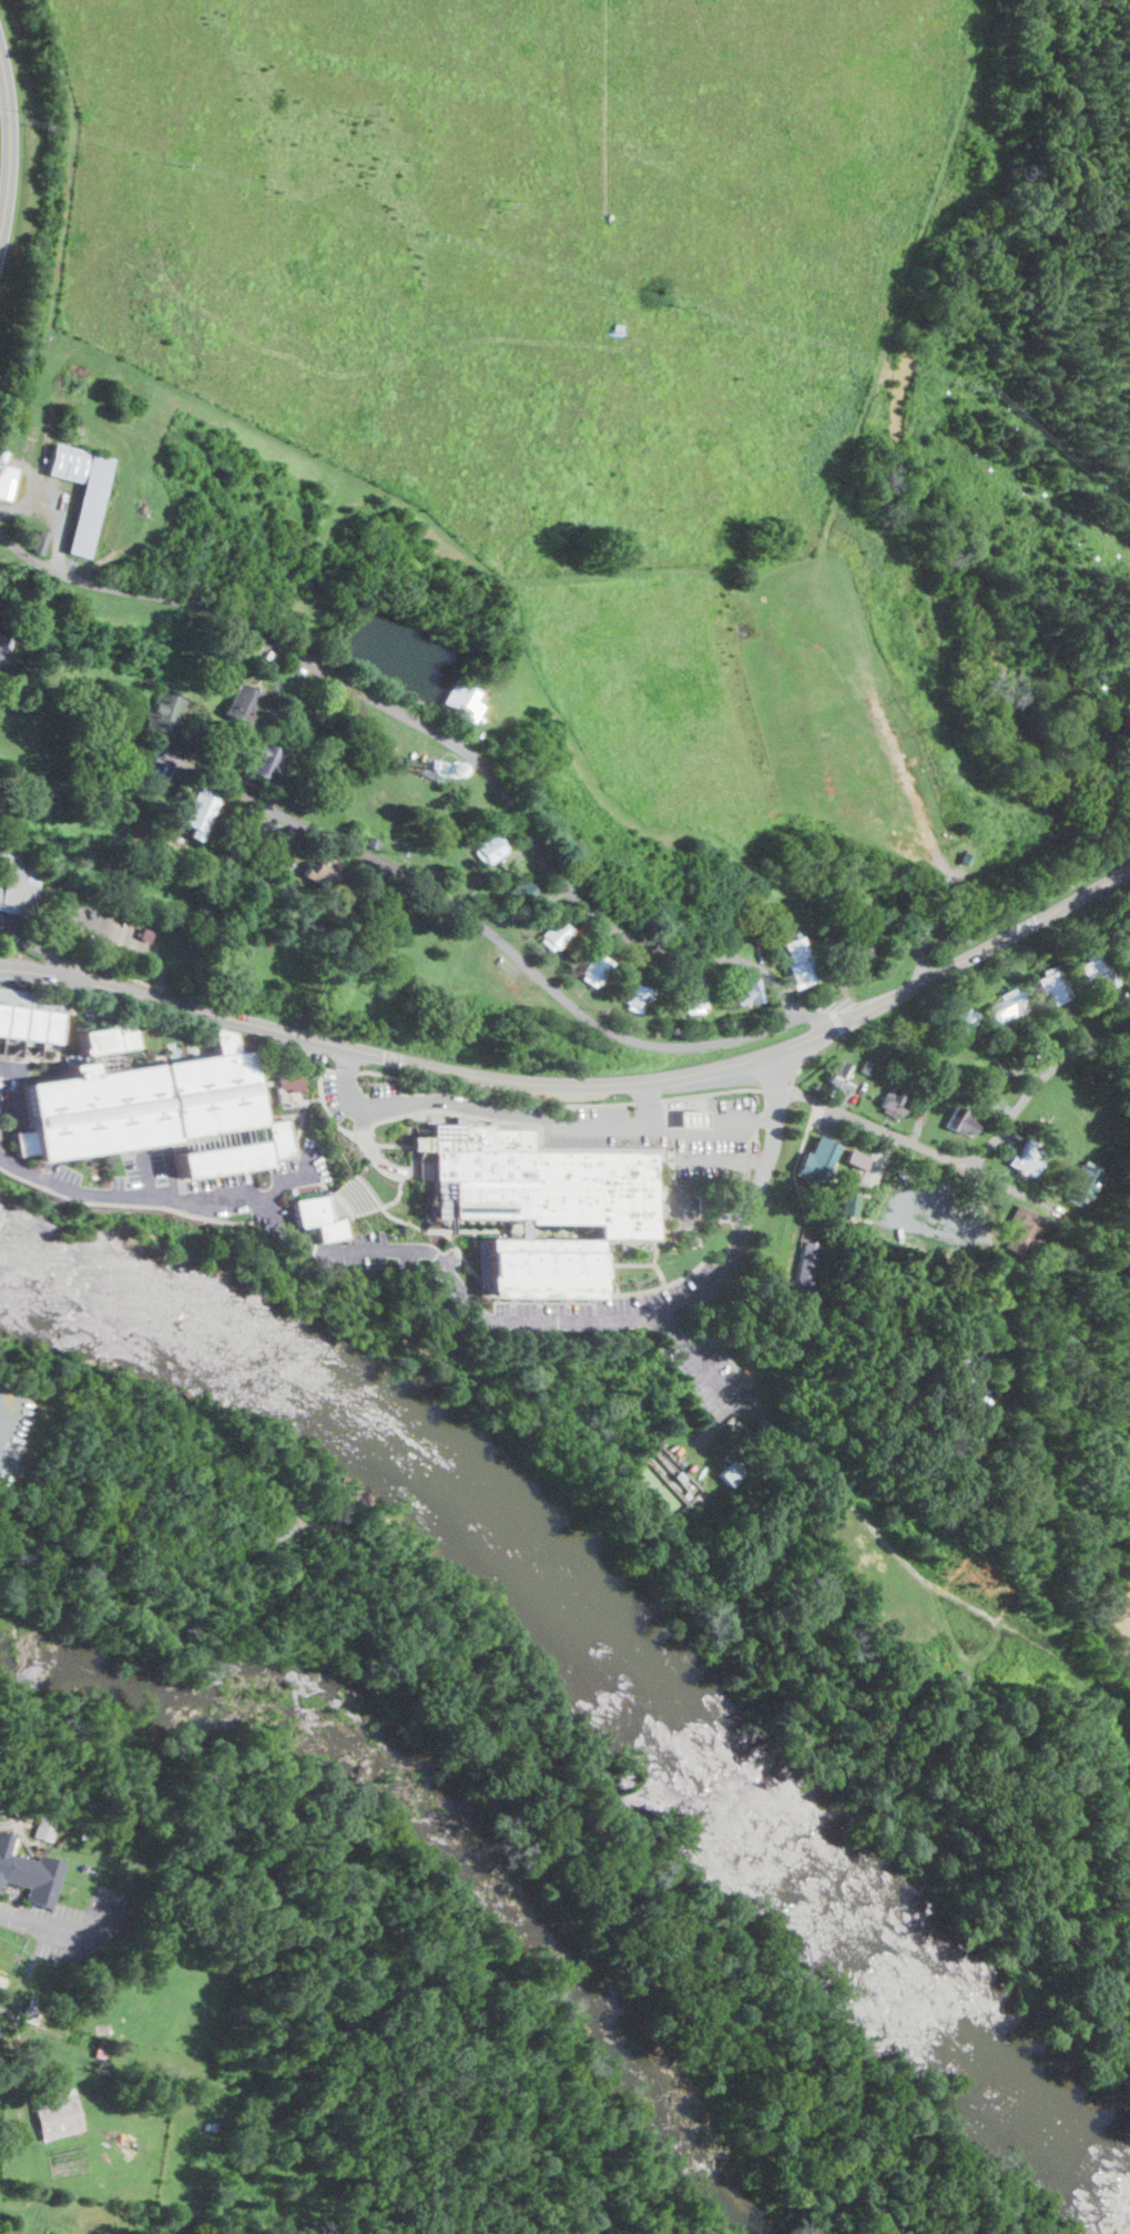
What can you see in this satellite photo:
building: (410, 35)
road: (10, 148)
crop: (520, 245)
road: (51, 318)
building: (618, 327)
building: (34, 441)
building: (7, 477)
building: (82, 487)
building: (39, 540)
road: (316, 565)
road: (841, 566)
road: (696, 573)
road: (770, 599)
road: (785, 611)
building: (4, 646)
building: (272, 656)
building: (462, 700)
building: (242, 701)
building: (166, 715)
road: (452, 742)
building: (266, 759)
building: (435, 763)
water tower: (435, 763)
road: (615, 803)
building: (200, 811)
road: (773, 819)
building: (268, 841)
building: (373, 841)
building: (479, 845)
building: (489, 849)
building: (322, 869)
building: (18, 873)
building: (258, 881)
building: (1, 883)
road: (846, 884)
building: (521, 892)
road: (940, 893)
parking lot: (12, 925)
road: (480, 925)
parking lot: (105, 930)
building: (149, 933)
building: (554, 933)
road: (114, 936)
road: (45, 945)
building: (1129, 945)
building: (858, 946)
building: (1129, 952)
building: (800, 962)
building: (582, 967)
building: (594, 969)
building: (1099, 969)
building: (1129, 974)
building: (1056, 986)
building: (747, 989)
building: (694, 991)
road: (297, 993)
road: (385, 995)
building: (638, 996)
building: (1000, 1006)
building: (30, 1015)
road: (180, 1029)
road: (297, 1029)
building: (224, 1039)
road: (348, 1070)
building: (841, 1076)
building: (292, 1083)
road: (582, 1085)
road: (721, 1093)
road: (496, 1098)
building: (895, 1100)
road: (649, 1101)
building: (156, 1108)
road: (495, 1110)
building: (683, 1116)
gas station: (698, 1117)
road: (487, 1119)
building: (961, 1120)
parking lot: (589, 1124)
road: (712, 1131)
road: (394, 1146)
building: (608, 1148)
building: (826, 1152)
building: (856, 1158)
building: (1027, 1158)
road: (722, 1161)
road: (386, 1162)
road: (366, 1166)
road: (961, 1166)
building: (540, 1180)
building: (1085, 1182)
parking lot: (192, 1185)
road: (398, 1194)
road: (138, 1195)
road: (690, 1202)
parking lot: (683, 1204)
building: (848, 1204)
road: (132, 1205)
road: (710, 1208)
road: (742, 1208)
building: (322, 1217)
road: (474, 1223)
road: (419, 1227)
building: (523, 1227)
building: (1025, 1228)
road: (483, 1229)
road: (477, 1238)
road: (663, 1240)
road: (317, 1249)
road: (634, 1263)
road: (658, 1263)
building: (546, 1266)
road: (1000, 1283)
road: (663, 1287)
road: (631, 1317)
road: (706, 1365)
building: (966, 1378)
road: (14, 1381)
parking lot: (719, 1390)
road: (506, 1404)
road: (6, 1409)
road: (165, 1420)
parking lot: (13, 1429)
building: (734, 1470)
road: (7, 1497)
road: (40, 1499)
road: (163, 1560)
road: (935, 1591)
road: (691, 1597)
road: (963, 1662)
river: (610, 1668)
building: (963, 1674)
road: (1126, 1756)
park: (470, 1773)
road: (503, 1797)
road: (894, 1841)
road: (584, 1842)
building: (26, 1875)
road: (650, 1907)
road: (22, 1922)
building: (53, 2114)

